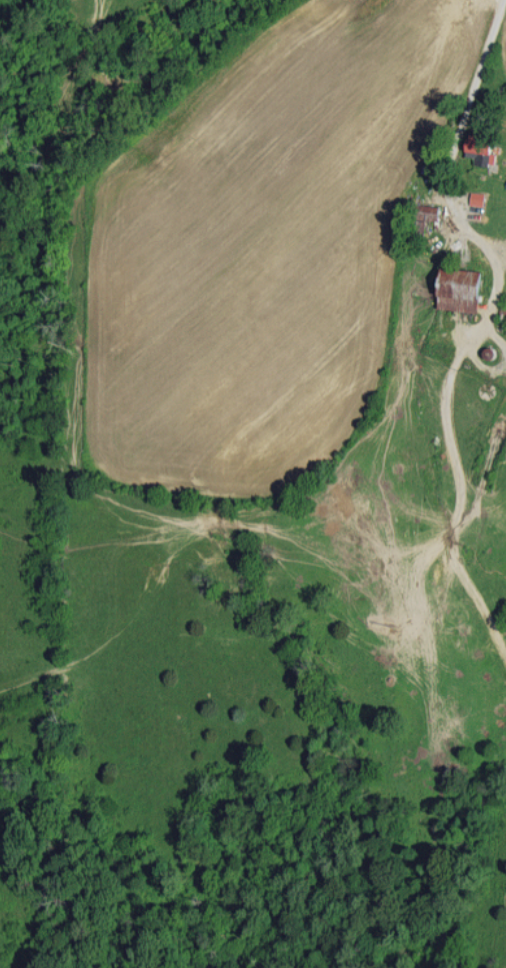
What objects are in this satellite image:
road: (476, 62)
building: (479, 150)
building: (458, 289)

